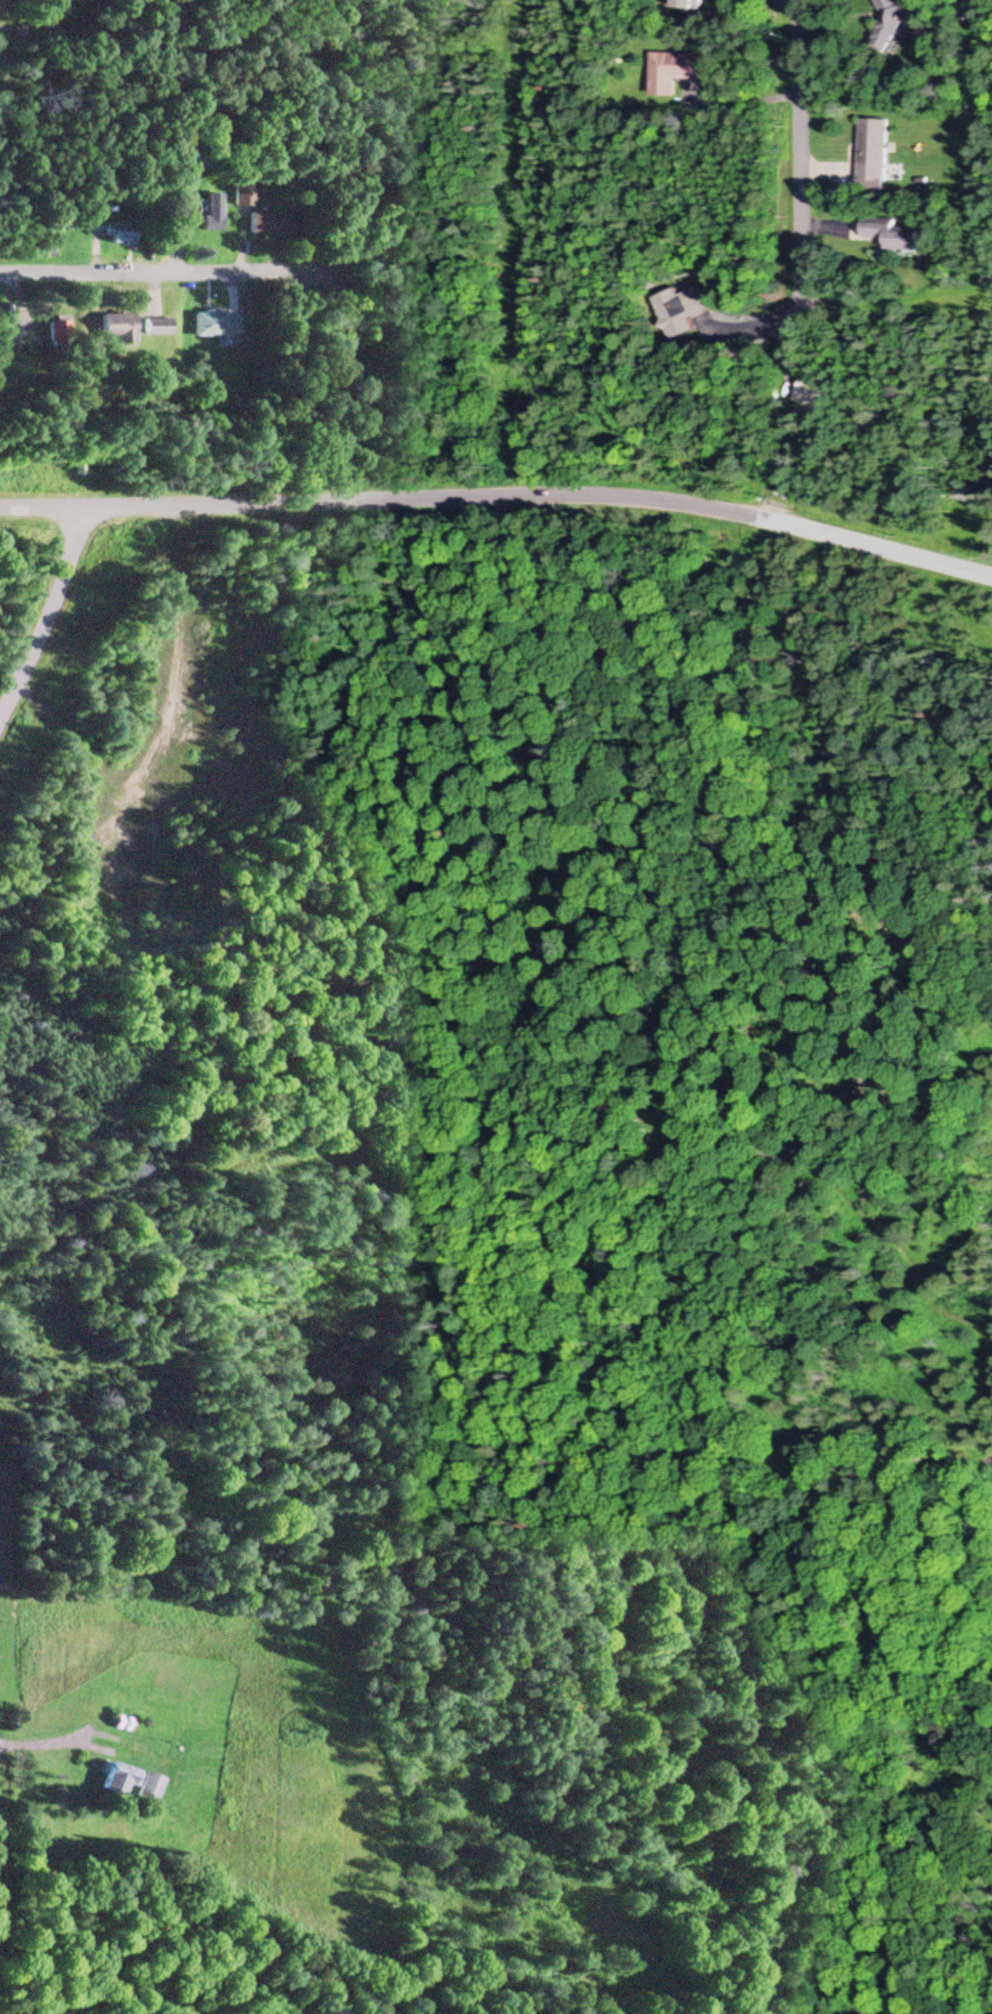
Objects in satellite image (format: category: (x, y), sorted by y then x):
building: (690, 5)
building: (895, 18)
building: (672, 72)
road: (801, 148)
building: (873, 151)
building: (239, 197)
building: (207, 214)
building: (259, 224)
building: (107, 231)
building: (891, 238)
road: (130, 274)
building: (676, 312)
building: (211, 326)
building: (152, 328)
building: (111, 329)
building: (54, 334)
building: (814, 389)
road: (500, 493)
road: (48, 618)
building: (132, 1783)

